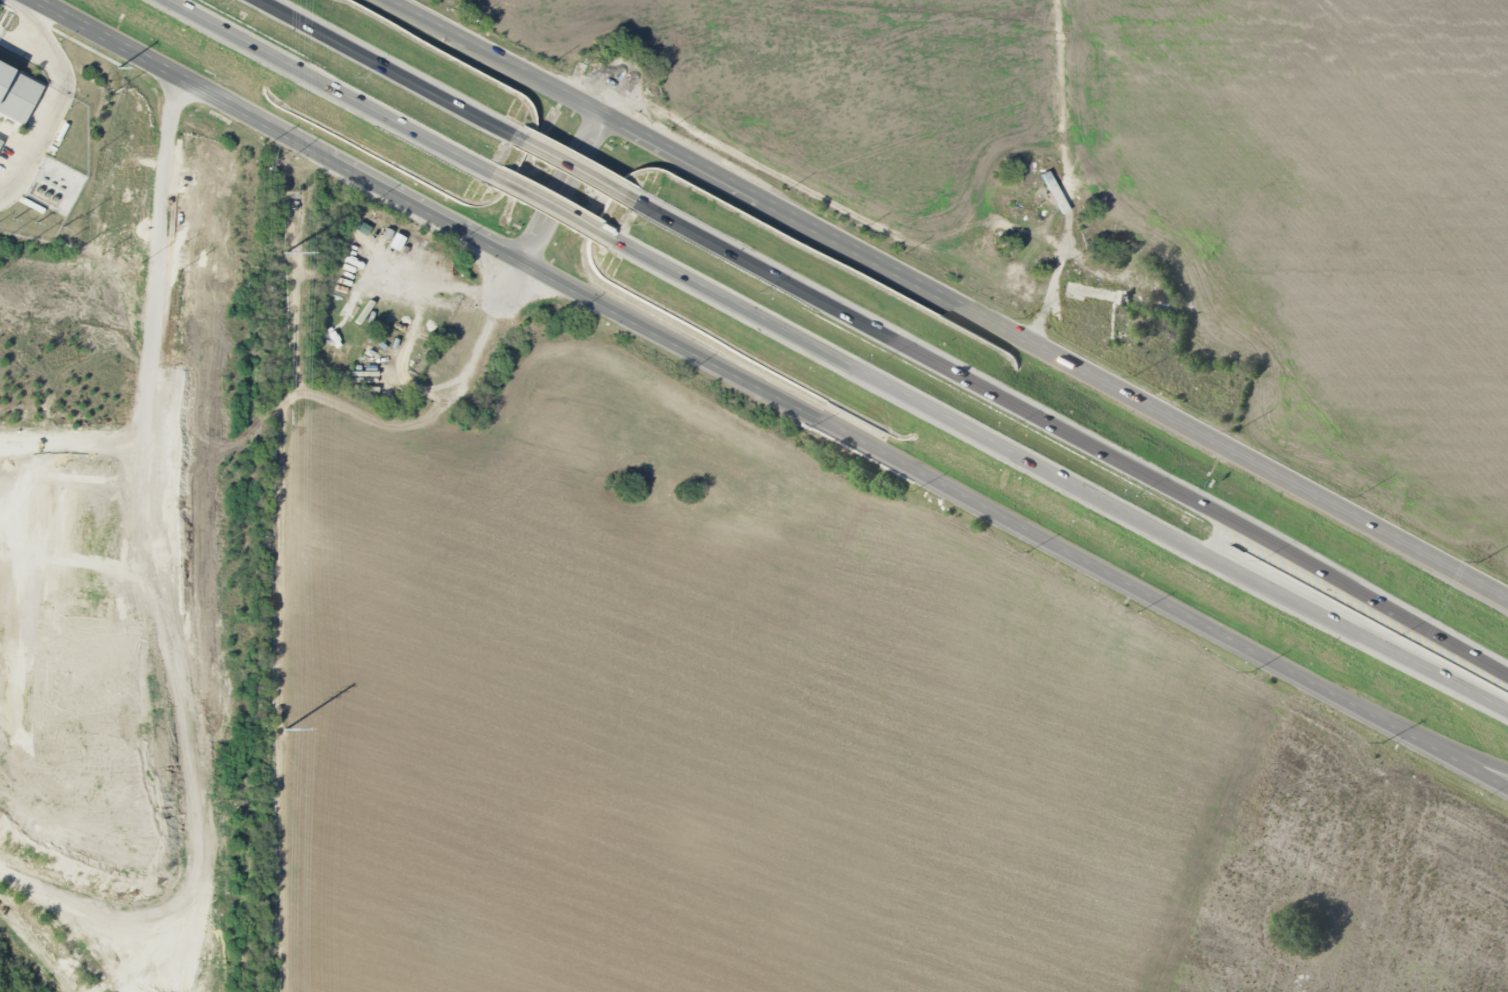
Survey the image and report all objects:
road: (34, 26)
road: (395, 72)
road: (332, 89)
building: (16, 93)
road: (53, 104)
building: (0, 140)
road: (577, 170)
road: (1064, 174)
building: (1030, 178)
road: (563, 187)
building: (1031, 197)
road: (553, 206)
power tower: (286, 251)
road: (78, 291)
road: (464, 295)
road: (949, 298)
road: (154, 330)
road: (770, 393)
road: (426, 418)
road: (1066, 435)
road: (1057, 472)
power tower: (285, 729)
road: (1451, 751)

